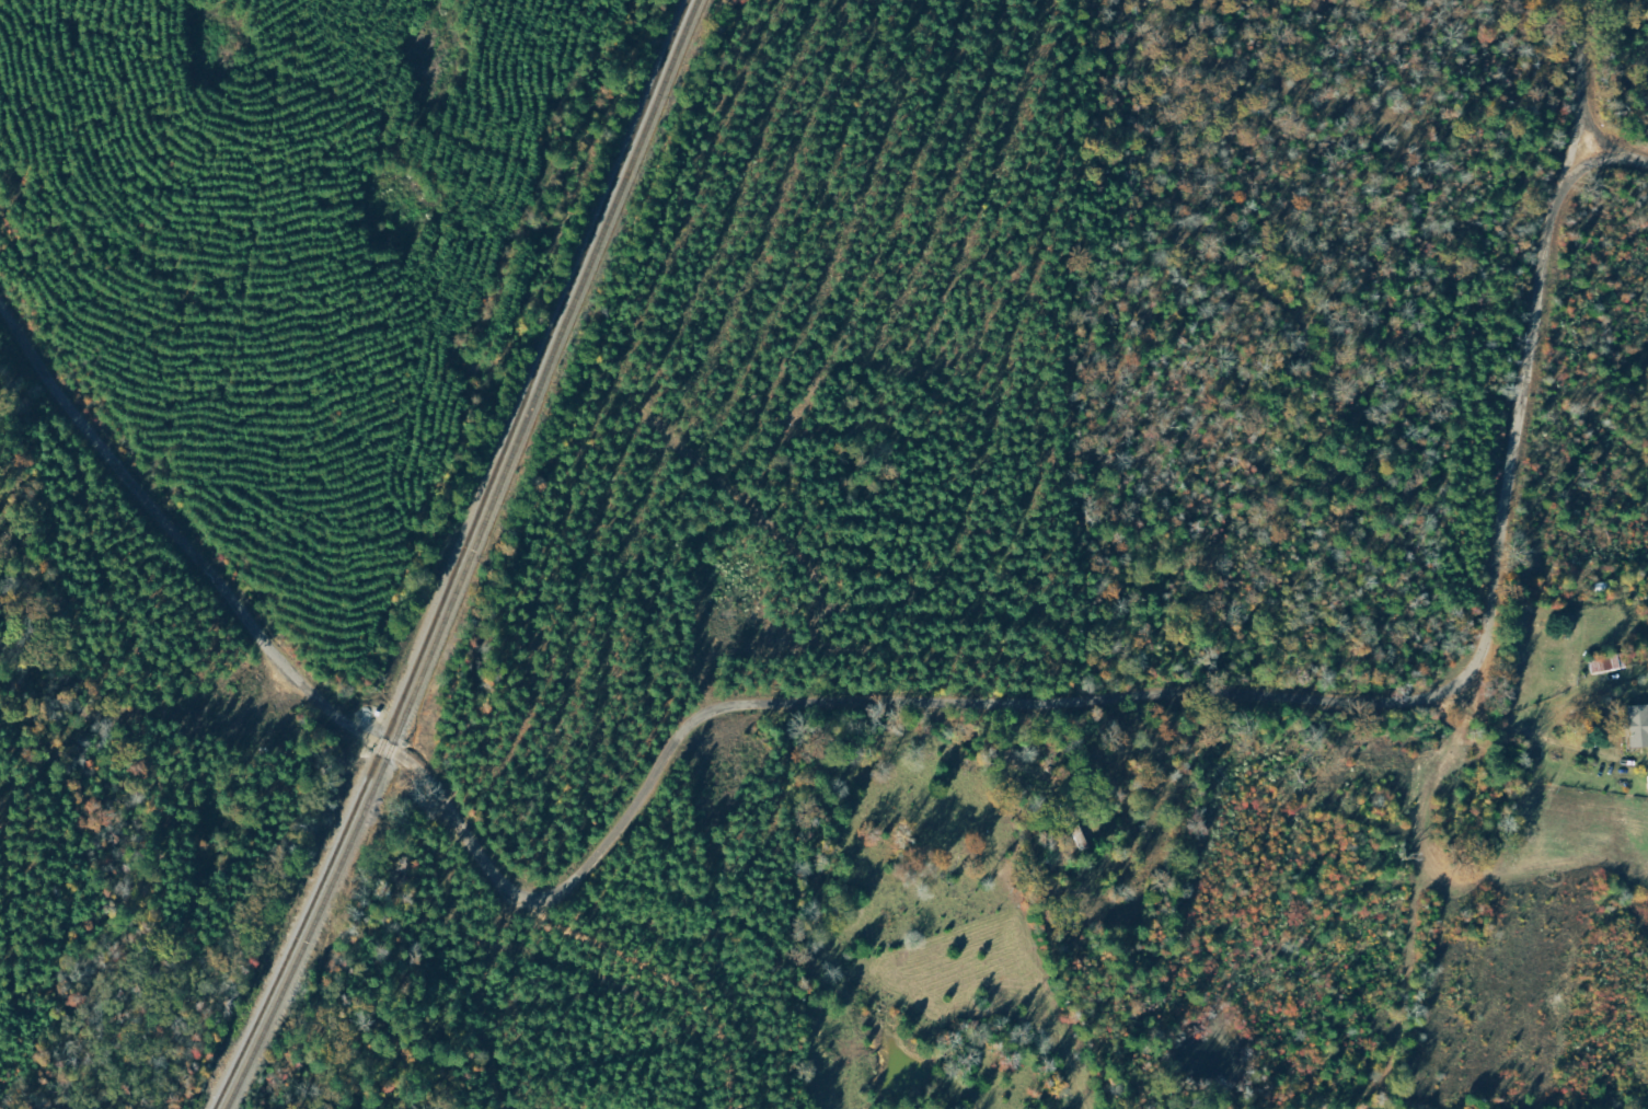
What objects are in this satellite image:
road: (1584, 96)
road: (1618, 195)
railway: (463, 558)
railway: (476, 559)
road: (249, 624)
road: (1197, 682)
building: (1638, 725)
road: (1530, 740)
road: (1030, 906)
road: (671, 980)
road: (1387, 1102)

